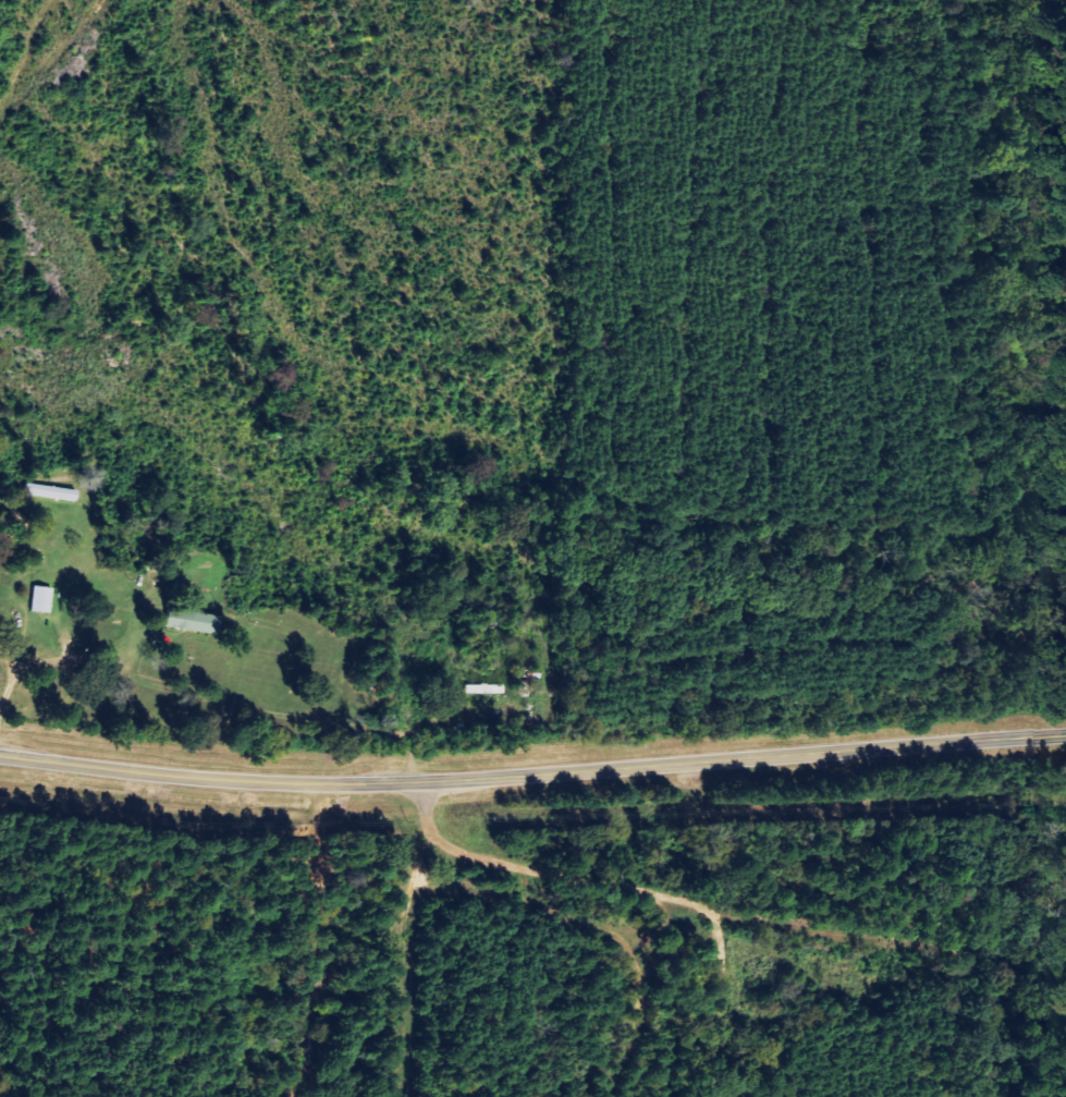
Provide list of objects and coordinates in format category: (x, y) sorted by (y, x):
building: (37, 600)
building: (186, 622)
road: (532, 775)
road: (718, 912)
road: (408, 960)

